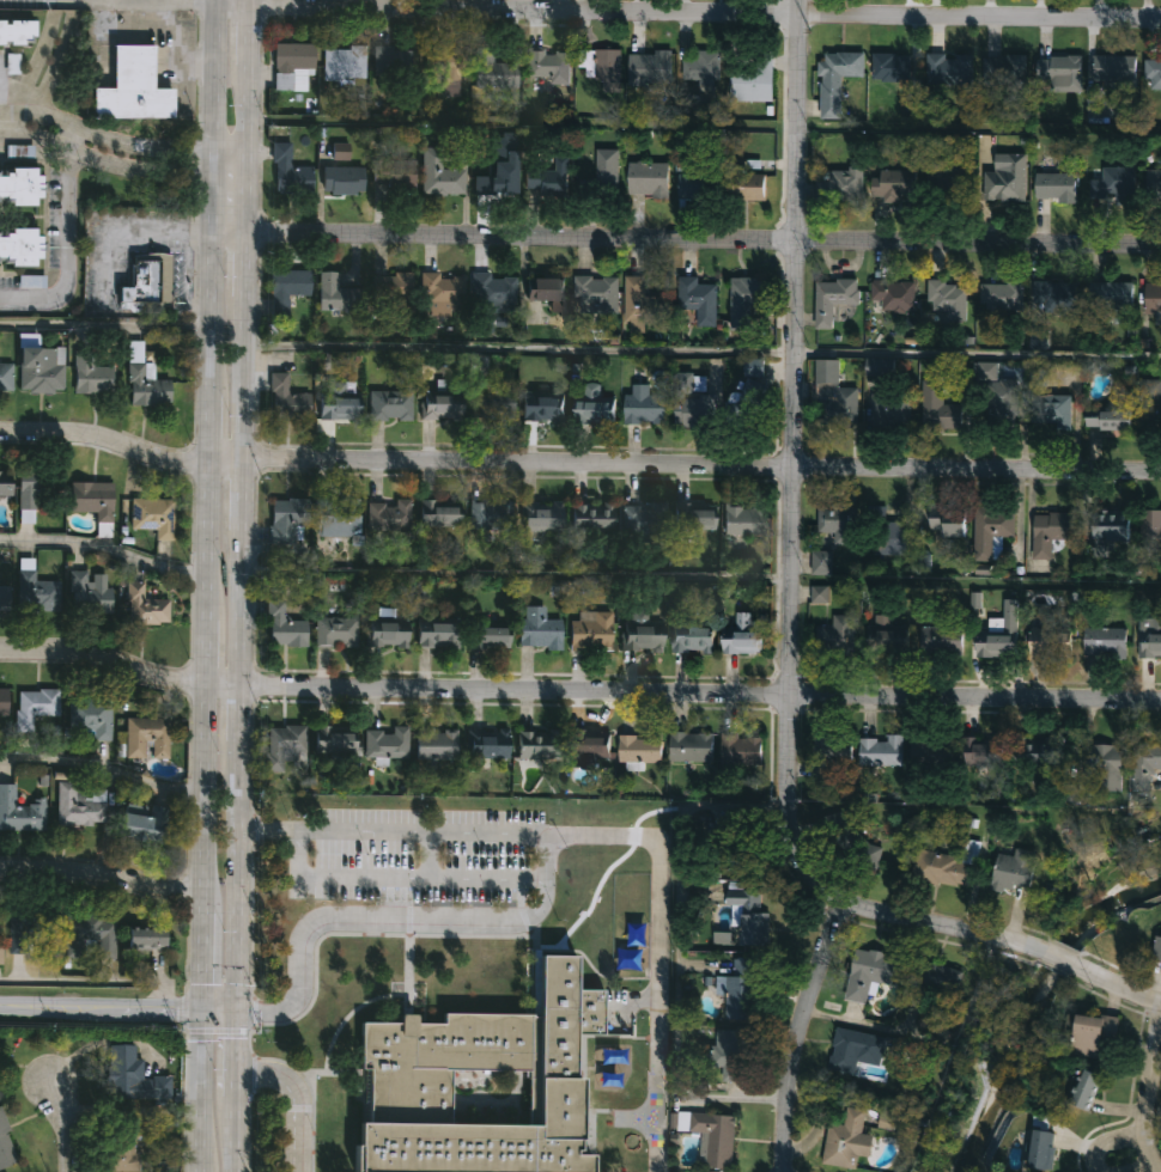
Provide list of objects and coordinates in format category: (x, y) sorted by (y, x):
road: (78, 0)
road: (146, 0)
road: (687, 11)
building: (17, 31)
building: (345, 62)
building: (393, 62)
road: (36, 63)
building: (451, 63)
building: (292, 65)
building: (1114, 65)
building: (601, 66)
building: (701, 66)
building: (889, 66)
building: (548, 67)
building: (649, 68)
building: (948, 68)
building: (1007, 69)
building: (493, 71)
building: (1060, 71)
building: (1151, 71)
building: (835, 78)
building: (750, 79)
building: (133, 87)
road: (5, 114)
road: (521, 121)
road: (5, 126)
road: (978, 126)
road: (124, 148)
road: (120, 167)
building: (287, 171)
building: (606, 171)
building: (439, 175)
building: (646, 177)
building: (1005, 178)
building: (342, 179)
building: (493, 179)
building: (547, 179)
building: (394, 181)
building: (1053, 182)
building: (695, 184)
building: (843, 184)
building: (948, 184)
building: (1113, 184)
building: (1153, 184)
building: (18, 185)
building: (746, 185)
building: (901, 189)
road: (686, 237)
road: (66, 240)
building: (18, 246)
building: (32, 282)
building: (146, 286)
building: (285, 288)
building: (394, 288)
building: (546, 291)
building: (494, 292)
building: (893, 293)
building: (335, 294)
building: (443, 294)
building: (595, 294)
building: (1001, 295)
building: (1057, 295)
building: (1153, 295)
building: (1111, 297)
building: (698, 298)
building: (833, 298)
building: (947, 298)
building: (640, 304)
building: (748, 304)
road: (104, 325)
road: (516, 344)
road: (974, 350)
building: (877, 366)
building: (38, 368)
building: (5, 376)
building: (89, 376)
building: (141, 380)
building: (833, 395)
building: (1001, 398)
building: (1151, 401)
building: (285, 402)
building: (688, 402)
building: (340, 403)
building: (747, 403)
building: (491, 404)
building: (644, 404)
building: (389, 405)
building: (440, 407)
building: (937, 408)
building: (542, 409)
building: (594, 409)
building: (890, 409)
building: (1051, 411)
building: (1106, 417)
road: (578, 464)
building: (5, 483)
building: (31, 487)
building: (91, 500)
road: (244, 507)
building: (438, 513)
building: (389, 514)
building: (490, 515)
building: (541, 515)
building: (694, 515)
building: (151, 517)
building: (645, 518)
building: (290, 519)
building: (591, 519)
building: (743, 520)
building: (837, 520)
building: (336, 521)
building: (948, 524)
building: (1108, 525)
building: (991, 530)
building: (1051, 530)
building: (1150, 531)
building: (887, 533)
road: (103, 549)
road: (785, 566)
road: (513, 572)
road: (973, 576)
road: (205, 585)
building: (34, 592)
building: (86, 593)
building: (4, 598)
building: (145, 606)
building: (284, 625)
building: (539, 629)
building: (336, 631)
building: (590, 631)
building: (388, 633)
building: (642, 633)
building: (741, 634)
building: (837, 634)
building: (887, 634)
building: (999, 634)
building: (437, 635)
building: (1149, 636)
building: (488, 637)
building: (691, 639)
building: (940, 639)
building: (1104, 640)
building: (1048, 645)
road: (577, 690)
building: (2, 702)
building: (31, 706)
building: (87, 716)
building: (144, 737)
building: (334, 739)
building: (385, 741)
building: (434, 743)
building: (488, 743)
building: (536, 743)
building: (586, 745)
building: (286, 746)
building: (691, 746)
building: (640, 747)
building: (742, 749)
building: (880, 750)
building: (931, 750)
building: (981, 750)
building: (1032, 750)
building: (1143, 761)
building: (1101, 763)
road: (103, 767)
building: (77, 805)
building: (18, 812)
building: (144, 826)
road: (397, 834)
road: (433, 857)
building: (946, 865)
building: (1011, 868)
road: (103, 871)
road: (406, 880)
building: (750, 915)
road: (401, 923)
building: (30, 928)
building: (87, 935)
building: (145, 938)
building: (1157, 951)
road: (661, 953)
road: (1062, 956)
building: (868, 971)
road: (95, 982)
road: (1116, 984)
building: (740, 990)
road: (120, 1007)
traffic signals: (202, 1011)
traffic signals: (241, 1014)
road: (792, 1030)
building: (1090, 1033)
building: (856, 1049)
building: (731, 1052)
building: (464, 1054)
road: (241, 1060)
building: (132, 1078)
road: (1143, 1087)
building: (1088, 1091)
road: (300, 1100)
road: (1150, 1115)
road: (639, 1121)
road: (65, 1127)
building: (711, 1134)
building: (847, 1137)
road: (239, 1139)
building: (1041, 1142)
road: (1105, 1143)
building: (124, 1146)
building: (5, 1149)
road: (1148, 1170)

